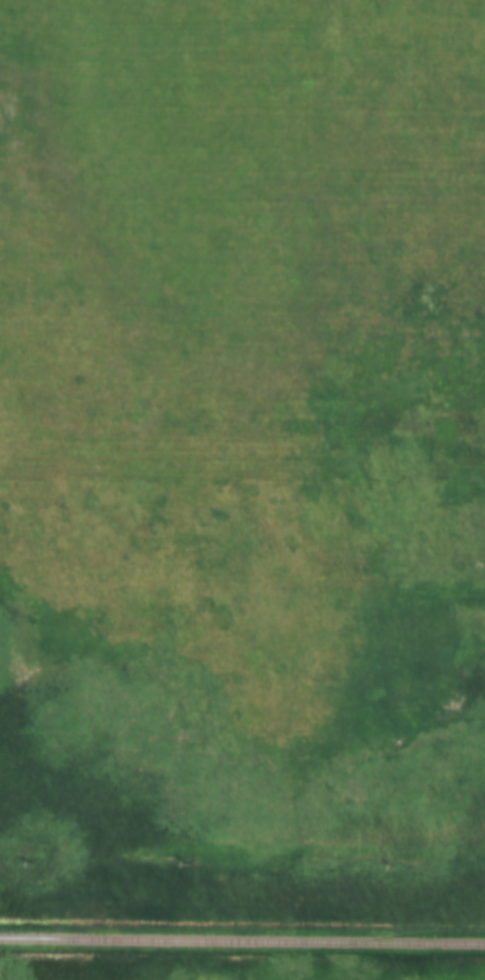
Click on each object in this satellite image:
railway: (242, 939)

